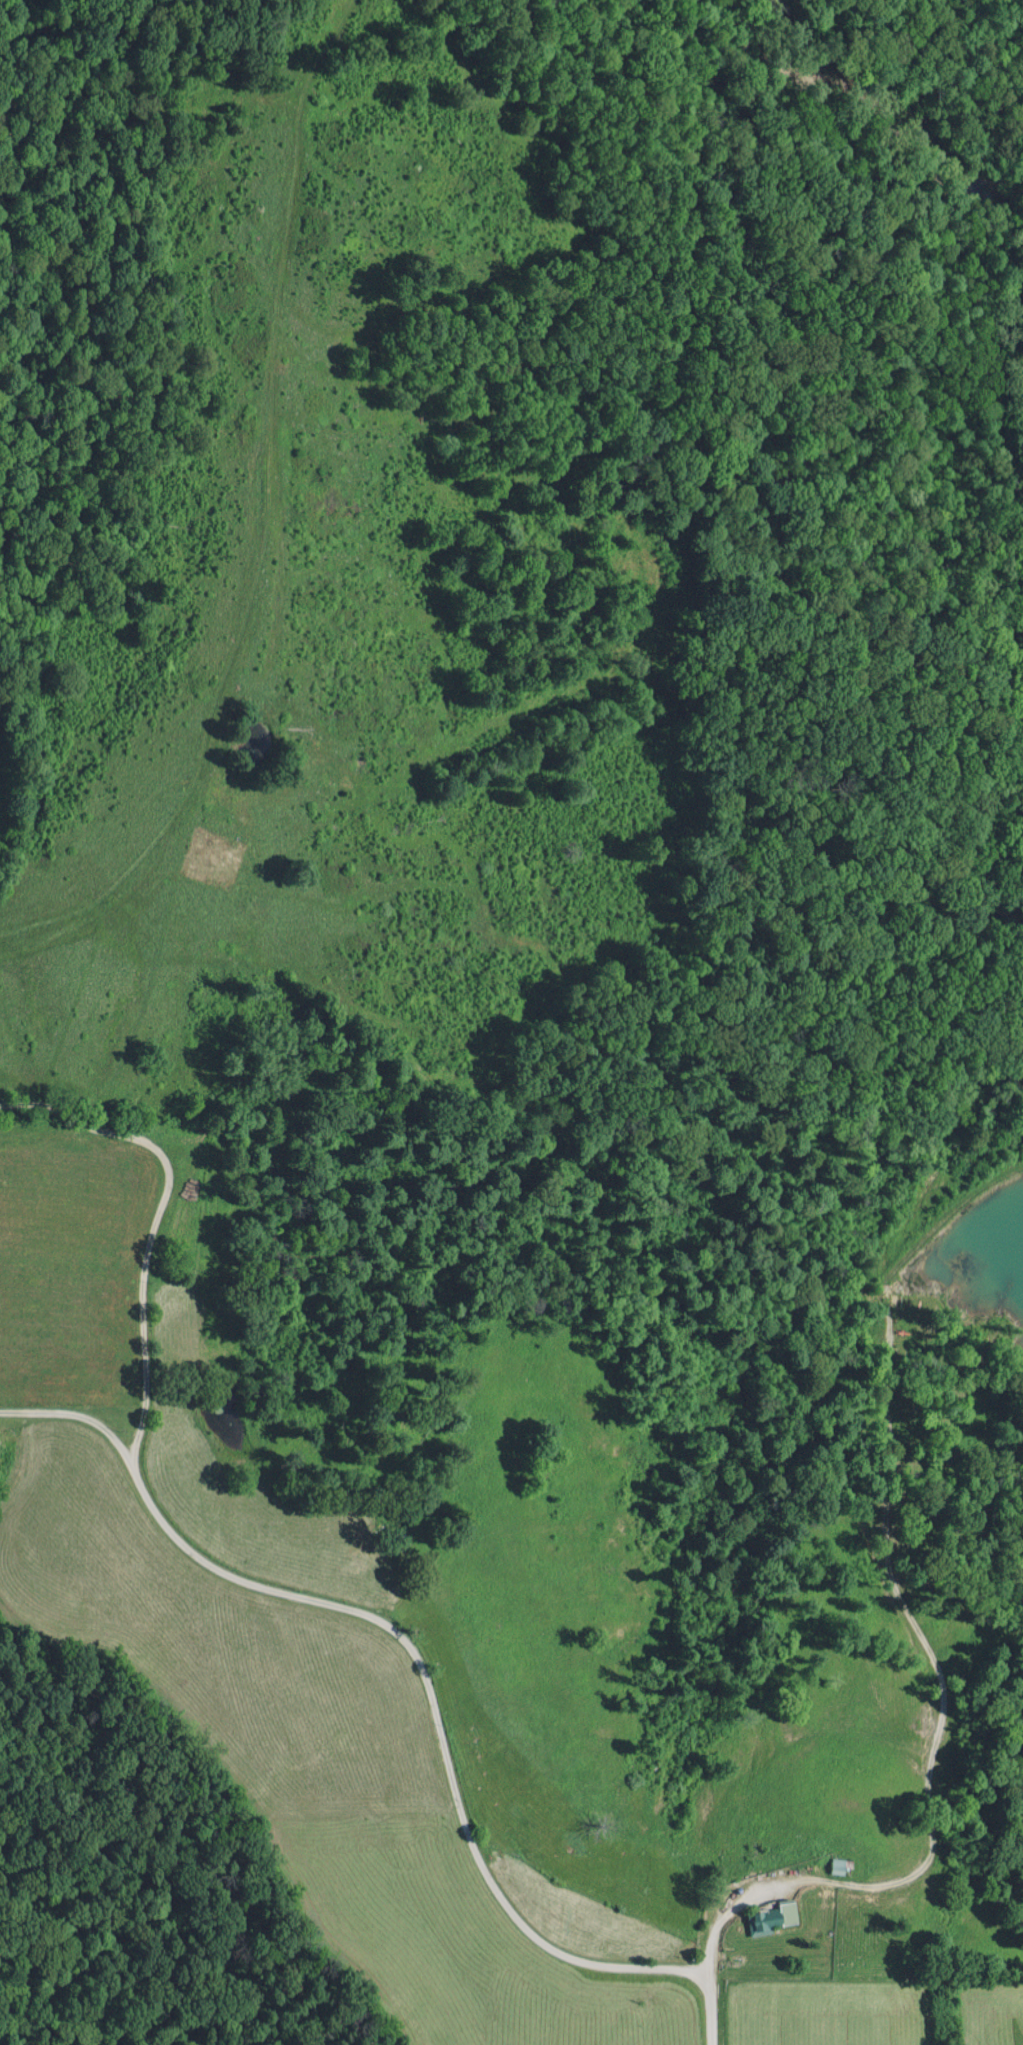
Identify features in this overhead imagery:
road: (445, 1749)
building: (767, 1917)

